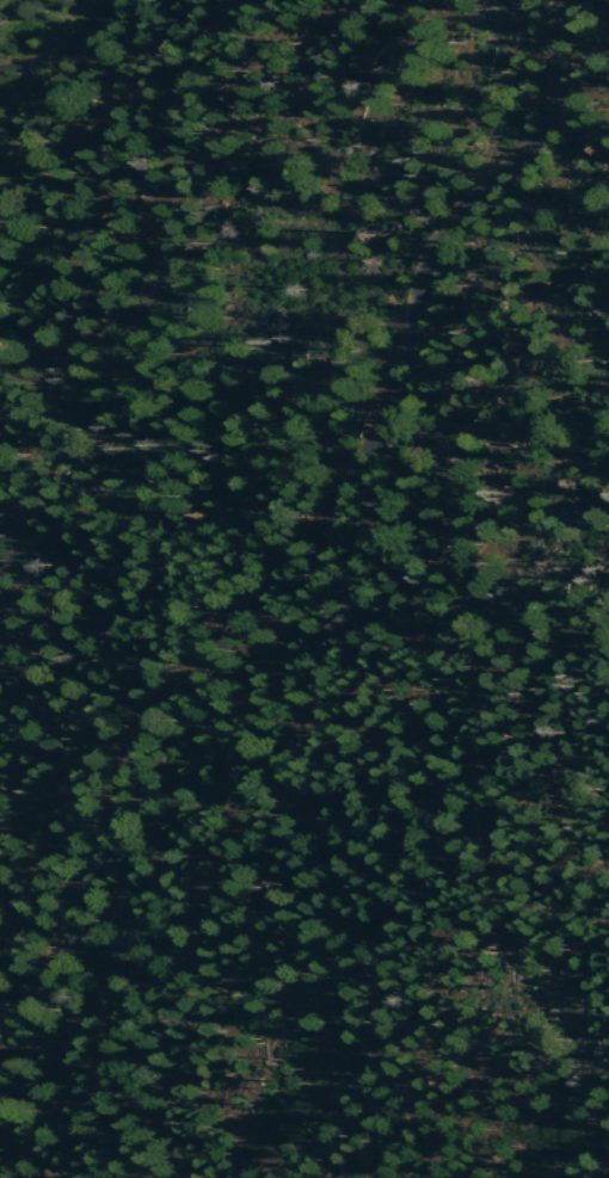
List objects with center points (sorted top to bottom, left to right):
road: (70, 43)
road: (291, 554)
road: (23, 1162)

